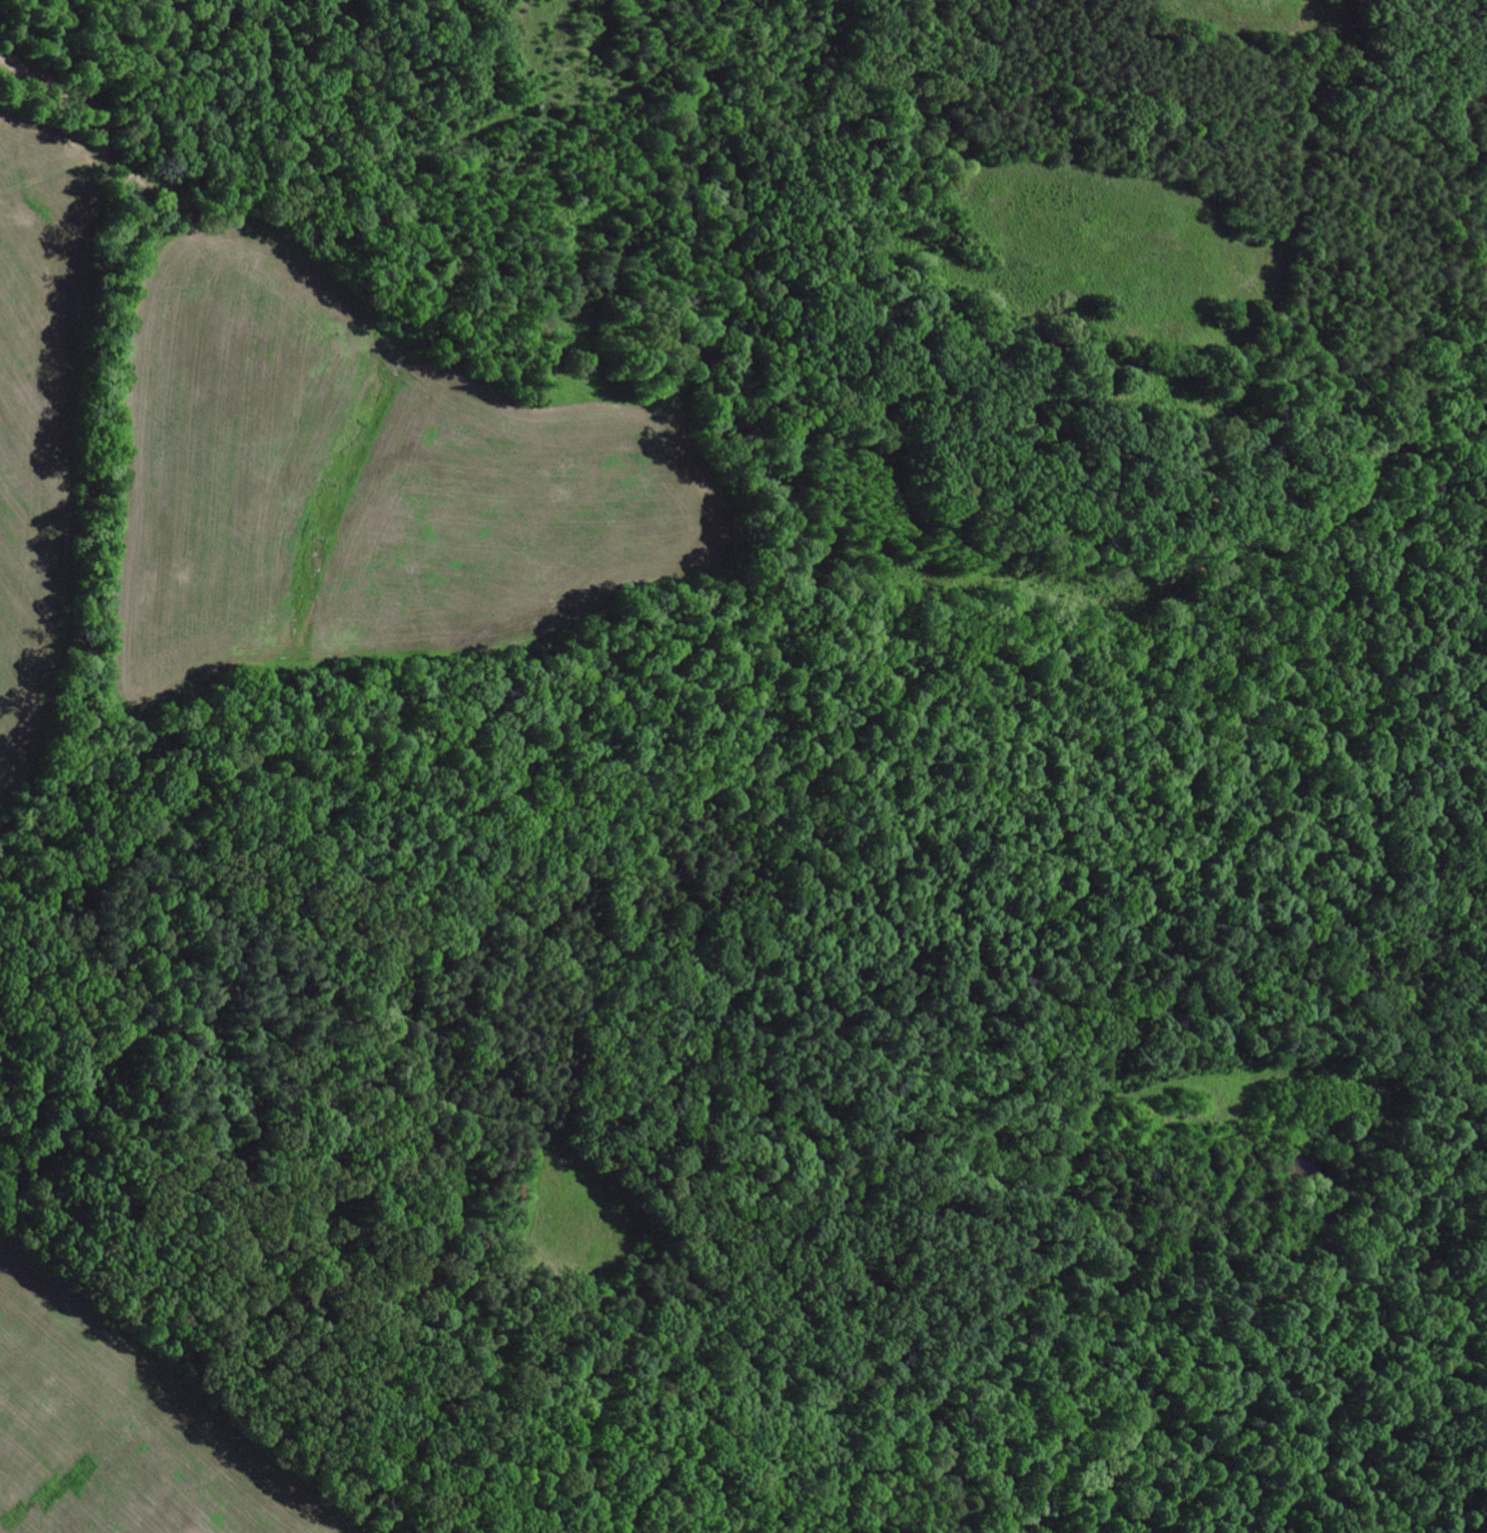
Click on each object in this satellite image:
road: (472, 30)

